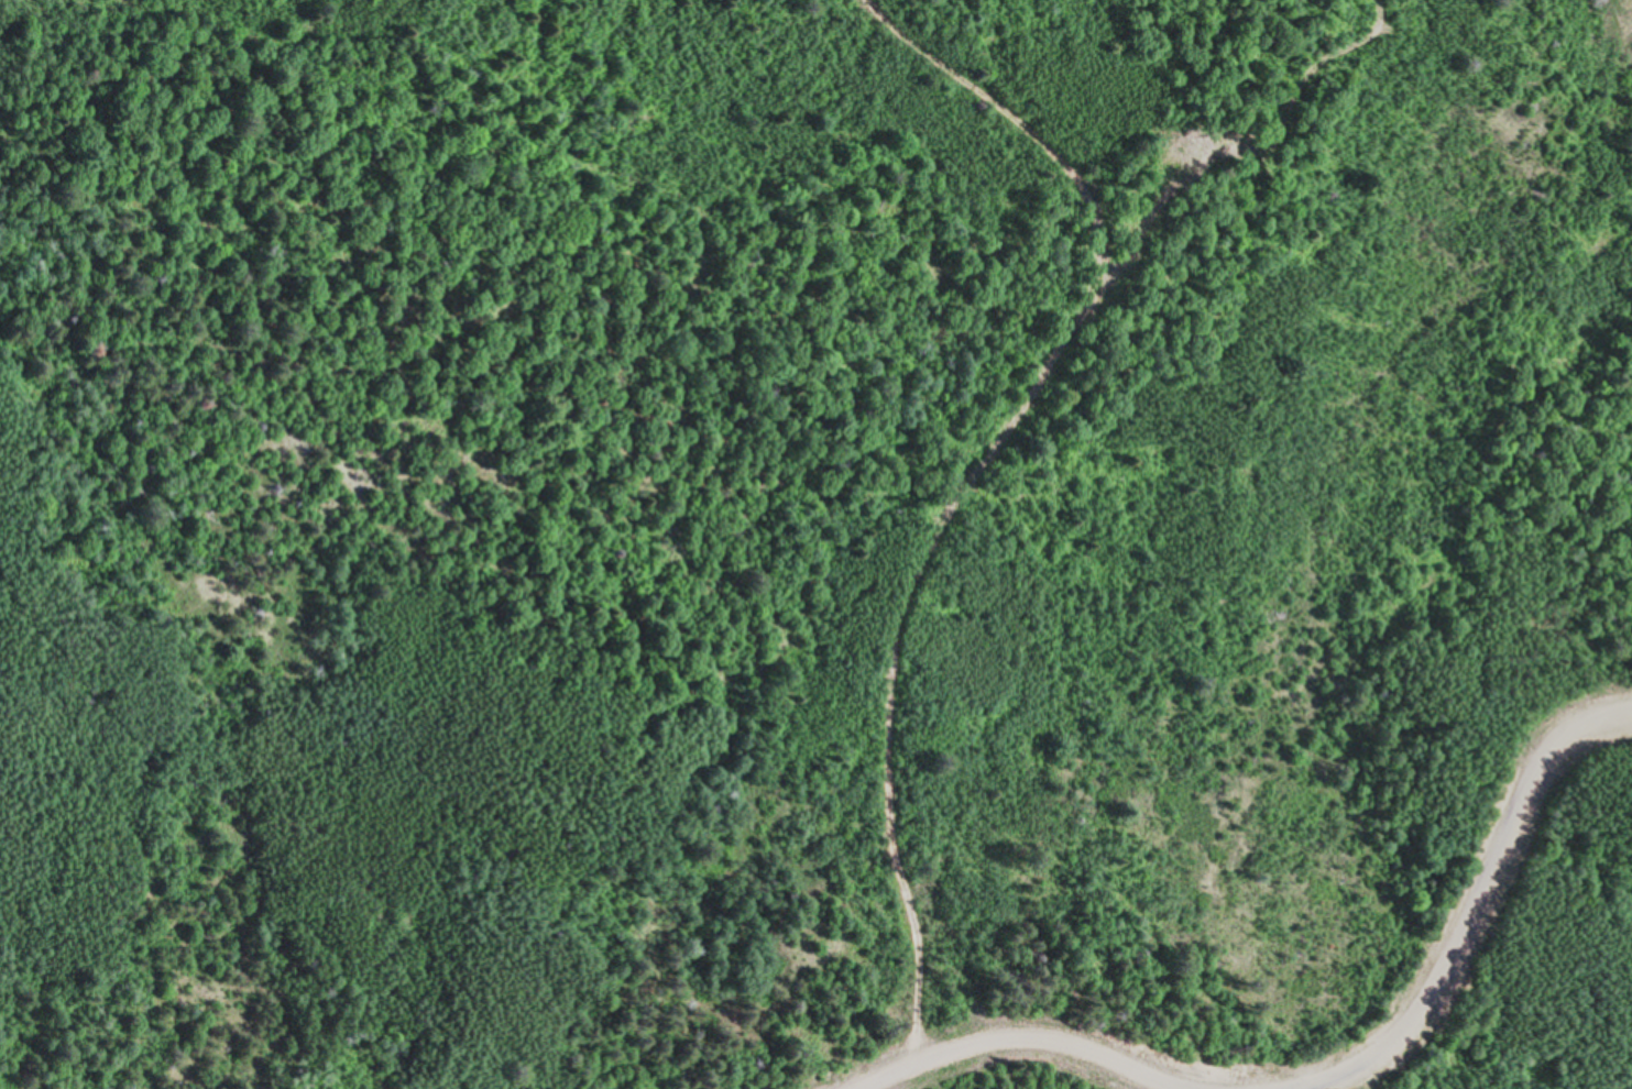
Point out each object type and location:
road: (971, 484)
road: (1492, 910)
road: (1015, 1059)
road: (1337, 1072)

